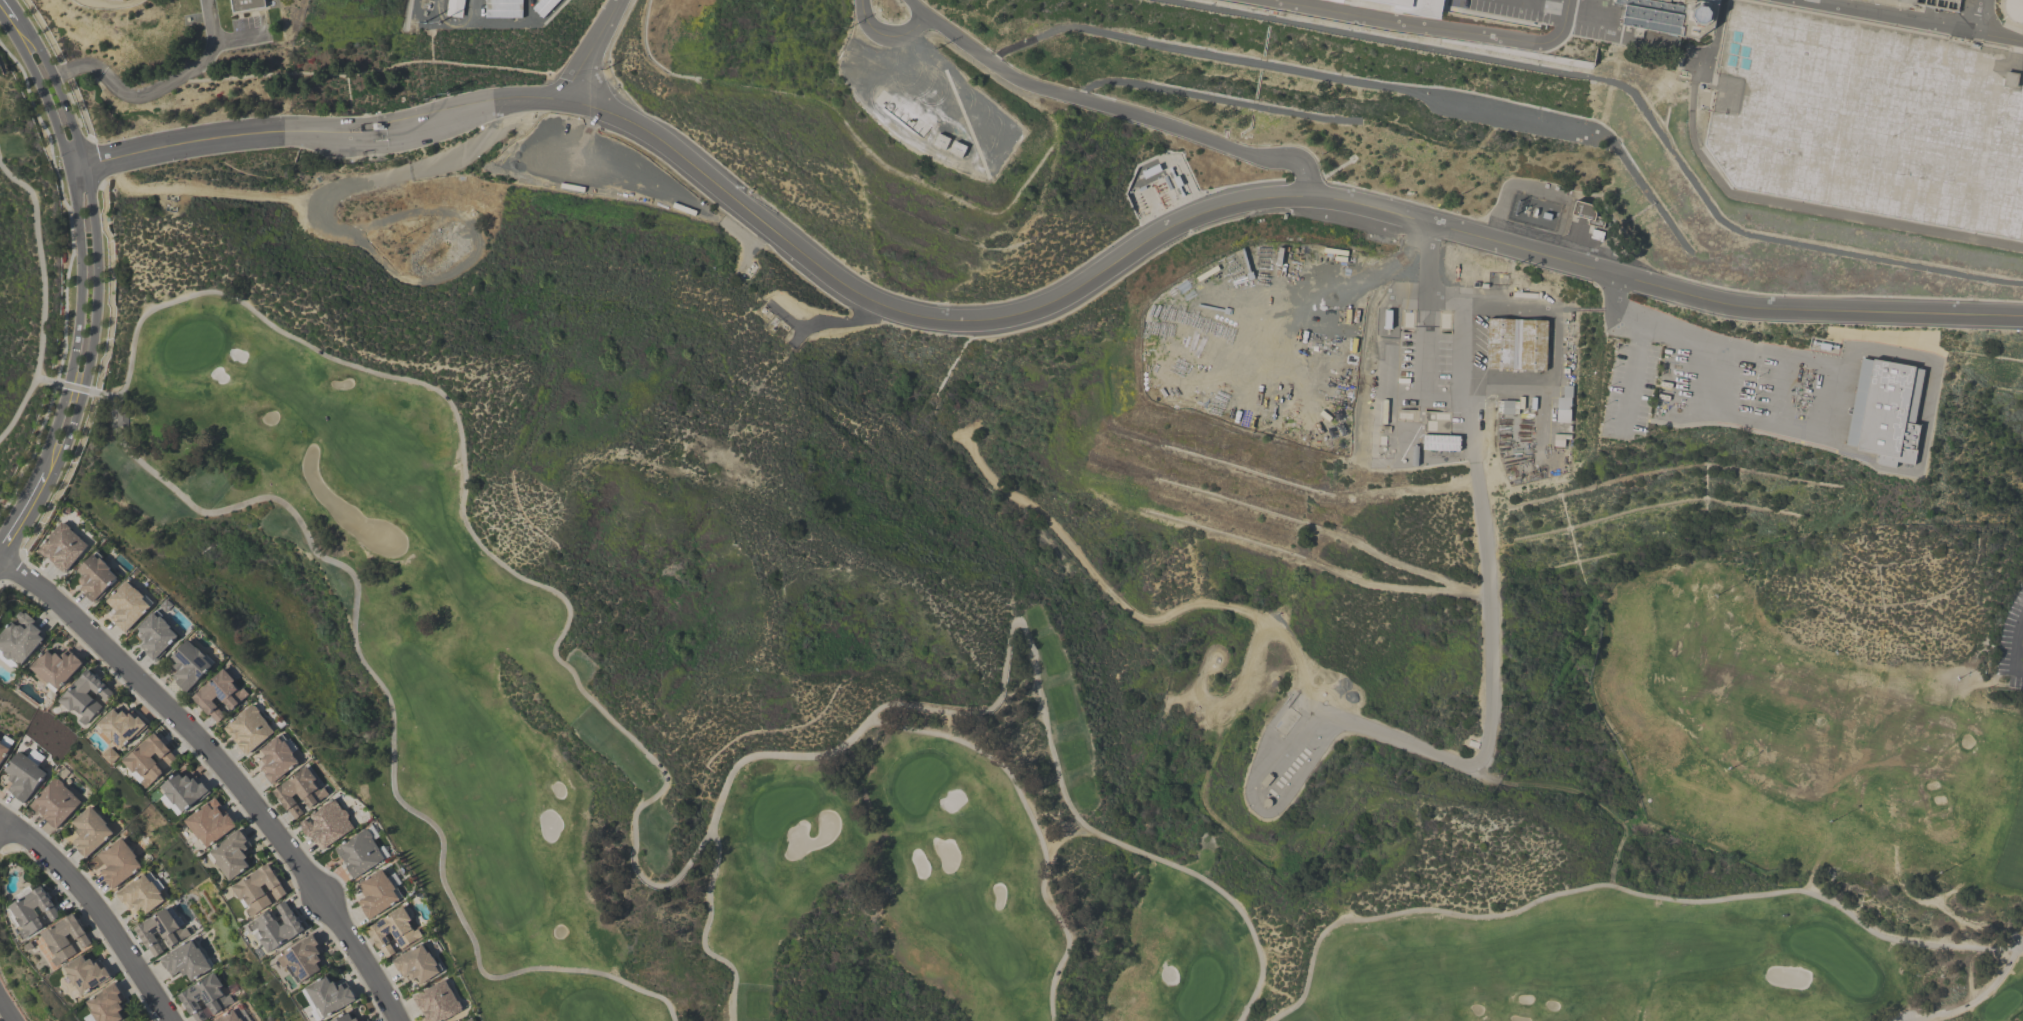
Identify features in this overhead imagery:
road: (90, 2)
road: (109, 7)
building: (457, 9)
building: (1311, 9)
building: (505, 10)
building: (2013, 10)
road: (5, 16)
road: (1982, 17)
road: (1904, 21)
building: (1654, 22)
road: (884, 31)
road: (594, 48)
road: (133, 99)
road: (1104, 111)
road: (329, 135)
road: (1258, 203)
building: (1585, 211)
road: (88, 244)
road: (822, 324)
building: (1518, 346)
road: (1636, 349)
road: (1555, 361)
road: (73, 387)
road: (1465, 387)
road: (1832, 387)
building: (1564, 407)
building: (1887, 412)
building: (1436, 423)
building: (1436, 445)
road: (24, 515)
building: (64, 550)
road: (0, 554)
building: (96, 580)
road: (1488, 585)
building: (127, 607)
road: (2019, 627)
building: (155, 637)
building: (21, 641)
road: (2014, 655)
building: (190, 668)
building: (57, 669)
building: (87, 698)
building: (220, 698)
building: (121, 729)
building: (263, 745)
building: (4, 747)
park: (983, 757)
building: (150, 761)
road: (224, 767)
building: (24, 779)
building: (185, 793)
building: (301, 793)
building: (56, 805)
building: (211, 825)
building: (328, 826)
road: (4, 832)
building: (89, 832)
building: (360, 855)
building: (232, 856)
building: (118, 865)
building: (259, 891)
building: (141, 895)
building: (378, 895)
road: (96, 911)
building: (35, 912)
building: (276, 929)
building: (162, 932)
building: (395, 933)
building: (66, 940)
building: (186, 962)
building: (303, 962)
building: (418, 965)
building: (87, 975)
building: (329, 998)
building: (206, 999)
building: (439, 1003)
building: (108, 1006)
road: (7, 1011)
building: (231, 1016)
building: (346, 1018)
building: (369, 1020)
building: (473, 1020)

